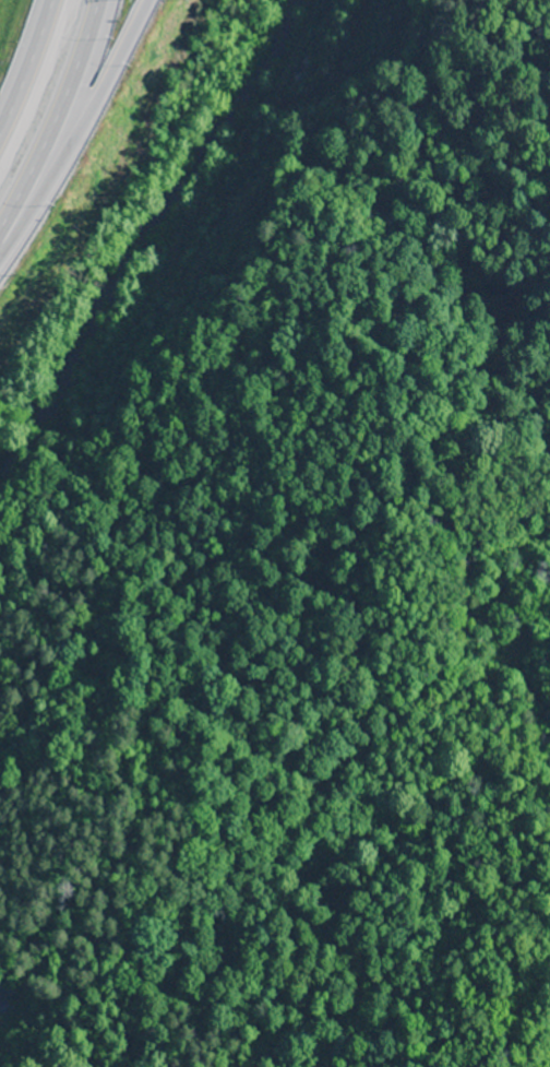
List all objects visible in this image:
road: (25, 60)
road: (55, 116)
road: (80, 138)

